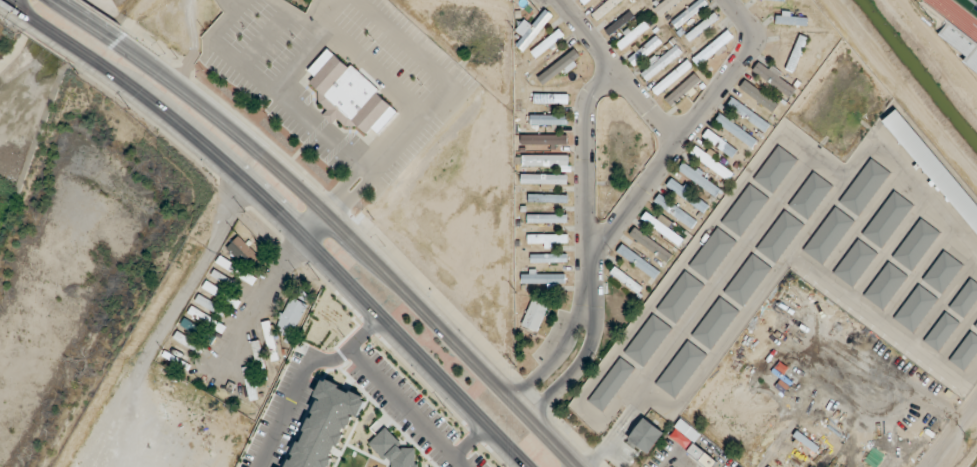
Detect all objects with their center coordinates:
building: (584, 1)
park: (975, 1)
road: (14, 2)
building: (663, 6)
building: (689, 12)
track: (955, 16)
building: (621, 17)
building: (793, 17)
road: (87, 19)
road: (312, 23)
building: (701, 27)
building: (534, 28)
stadium: (954, 29)
road: (50, 30)
building: (632, 33)
road: (264, 36)
building: (547, 42)
building: (712, 47)
building: (644, 49)
building: (796, 52)
road: (298, 60)
building: (972, 60)
building: (660, 61)
building: (558, 66)
road: (368, 68)
road: (616, 71)
road: (725, 72)
building: (670, 77)
building: (774, 77)
building: (682, 88)
building: (348, 94)
building: (761, 96)
building: (550, 97)
building: (748, 113)
building: (548, 119)
building: (735, 129)
building: (544, 139)
building: (724, 145)
road: (878, 149)
building: (544, 159)
road: (361, 162)
building: (711, 162)
building: (933, 166)
road: (367, 167)
building: (774, 167)
building: (544, 178)
building: (700, 178)
road: (585, 179)
building: (864, 185)
building: (687, 194)
building: (810, 194)
building: (543, 197)
road: (631, 199)
road: (335, 202)
building: (744, 209)
building: (675, 210)
building: (547, 217)
building: (887, 217)
road: (315, 224)
building: (662, 227)
building: (828, 233)
building: (779, 235)
building: (543, 238)
road: (358, 241)
building: (650, 243)
building: (915, 243)
road: (315, 250)
building: (244, 251)
building: (712, 252)
building: (548, 257)
building: (637, 260)
building: (854, 261)
road: (679, 263)
building: (236, 268)
building: (942, 270)
building: (543, 276)
road: (718, 276)
building: (224, 278)
building: (626, 279)
building: (747, 279)
building: (884, 284)
building: (216, 290)
building: (679, 295)
building: (965, 297)
road: (257, 305)
building: (915, 306)
road: (589, 307)
building: (208, 311)
building: (292, 314)
building: (534, 314)
building: (714, 322)
building: (975, 324)
road: (882, 327)
building: (941, 330)
building: (270, 338)
building: (647, 339)
building: (965, 350)
road: (713, 351)
building: (260, 358)
building: (680, 368)
building: (250, 382)
building: (610, 383)
road: (634, 407)
road: (949, 429)
building: (644, 434)
building: (692, 447)
road: (600, 452)

